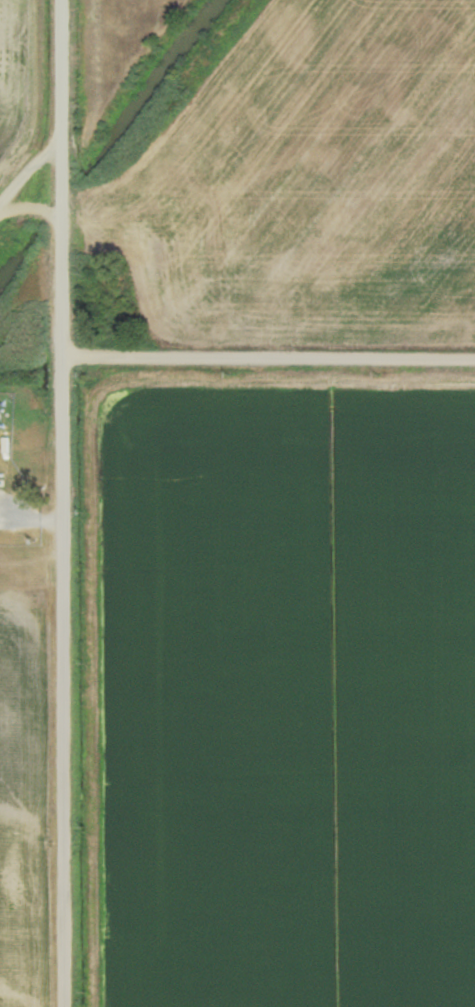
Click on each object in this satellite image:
road: (26, 168)
road: (30, 205)
road: (268, 359)
road: (62, 503)

